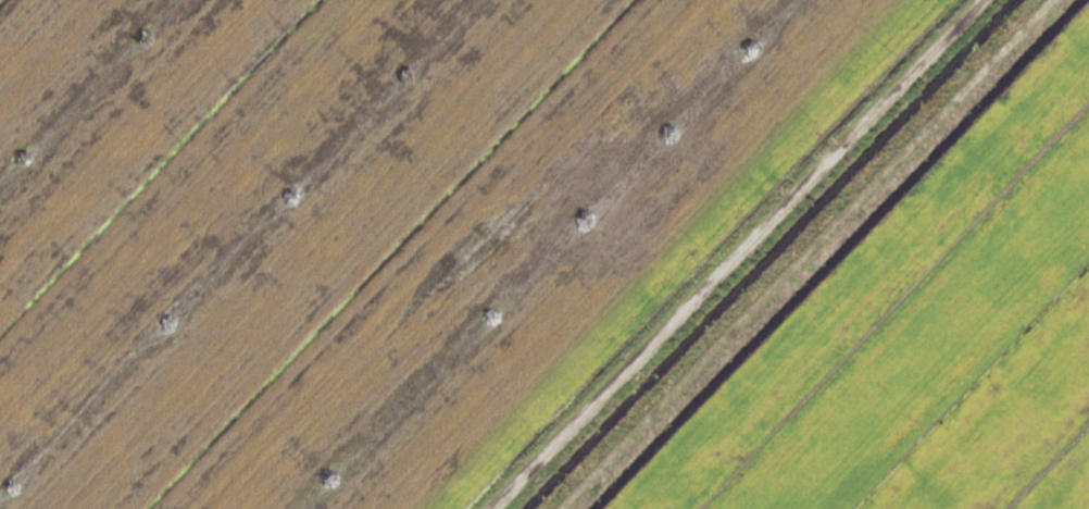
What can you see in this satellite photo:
road: (718, 254)

